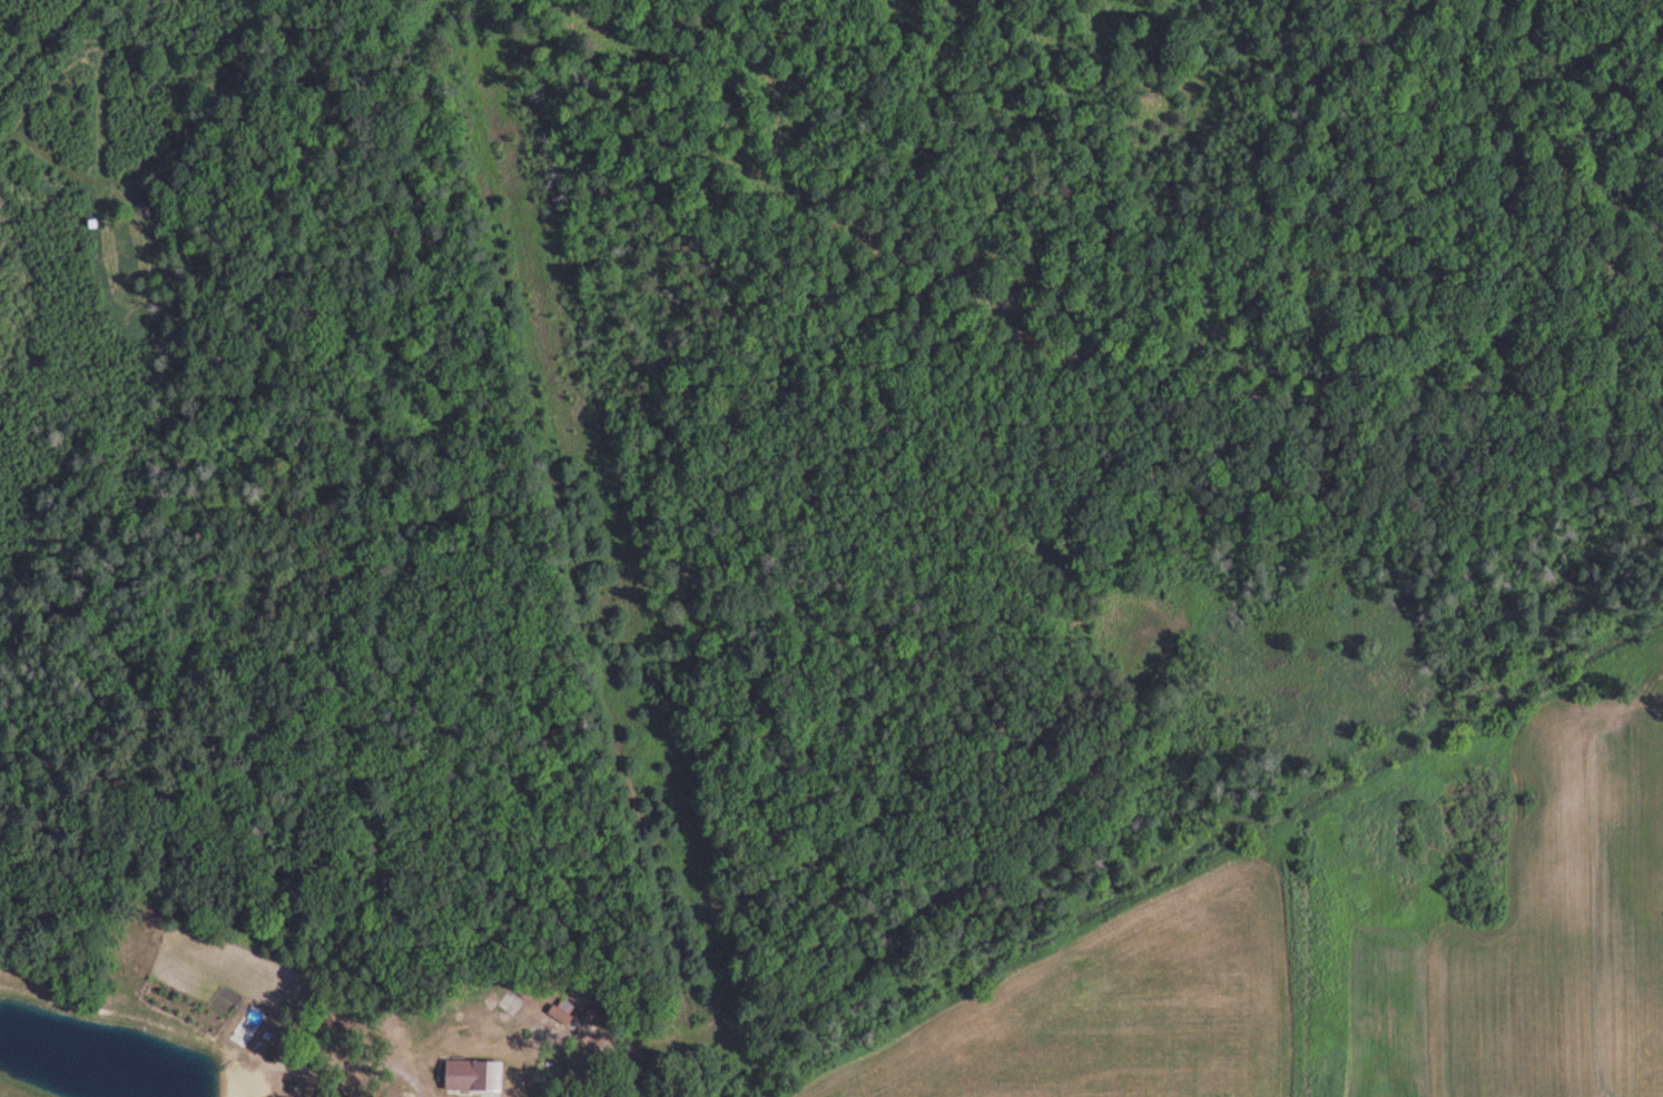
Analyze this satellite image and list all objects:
road: (1450, 284)
building: (474, 1075)

